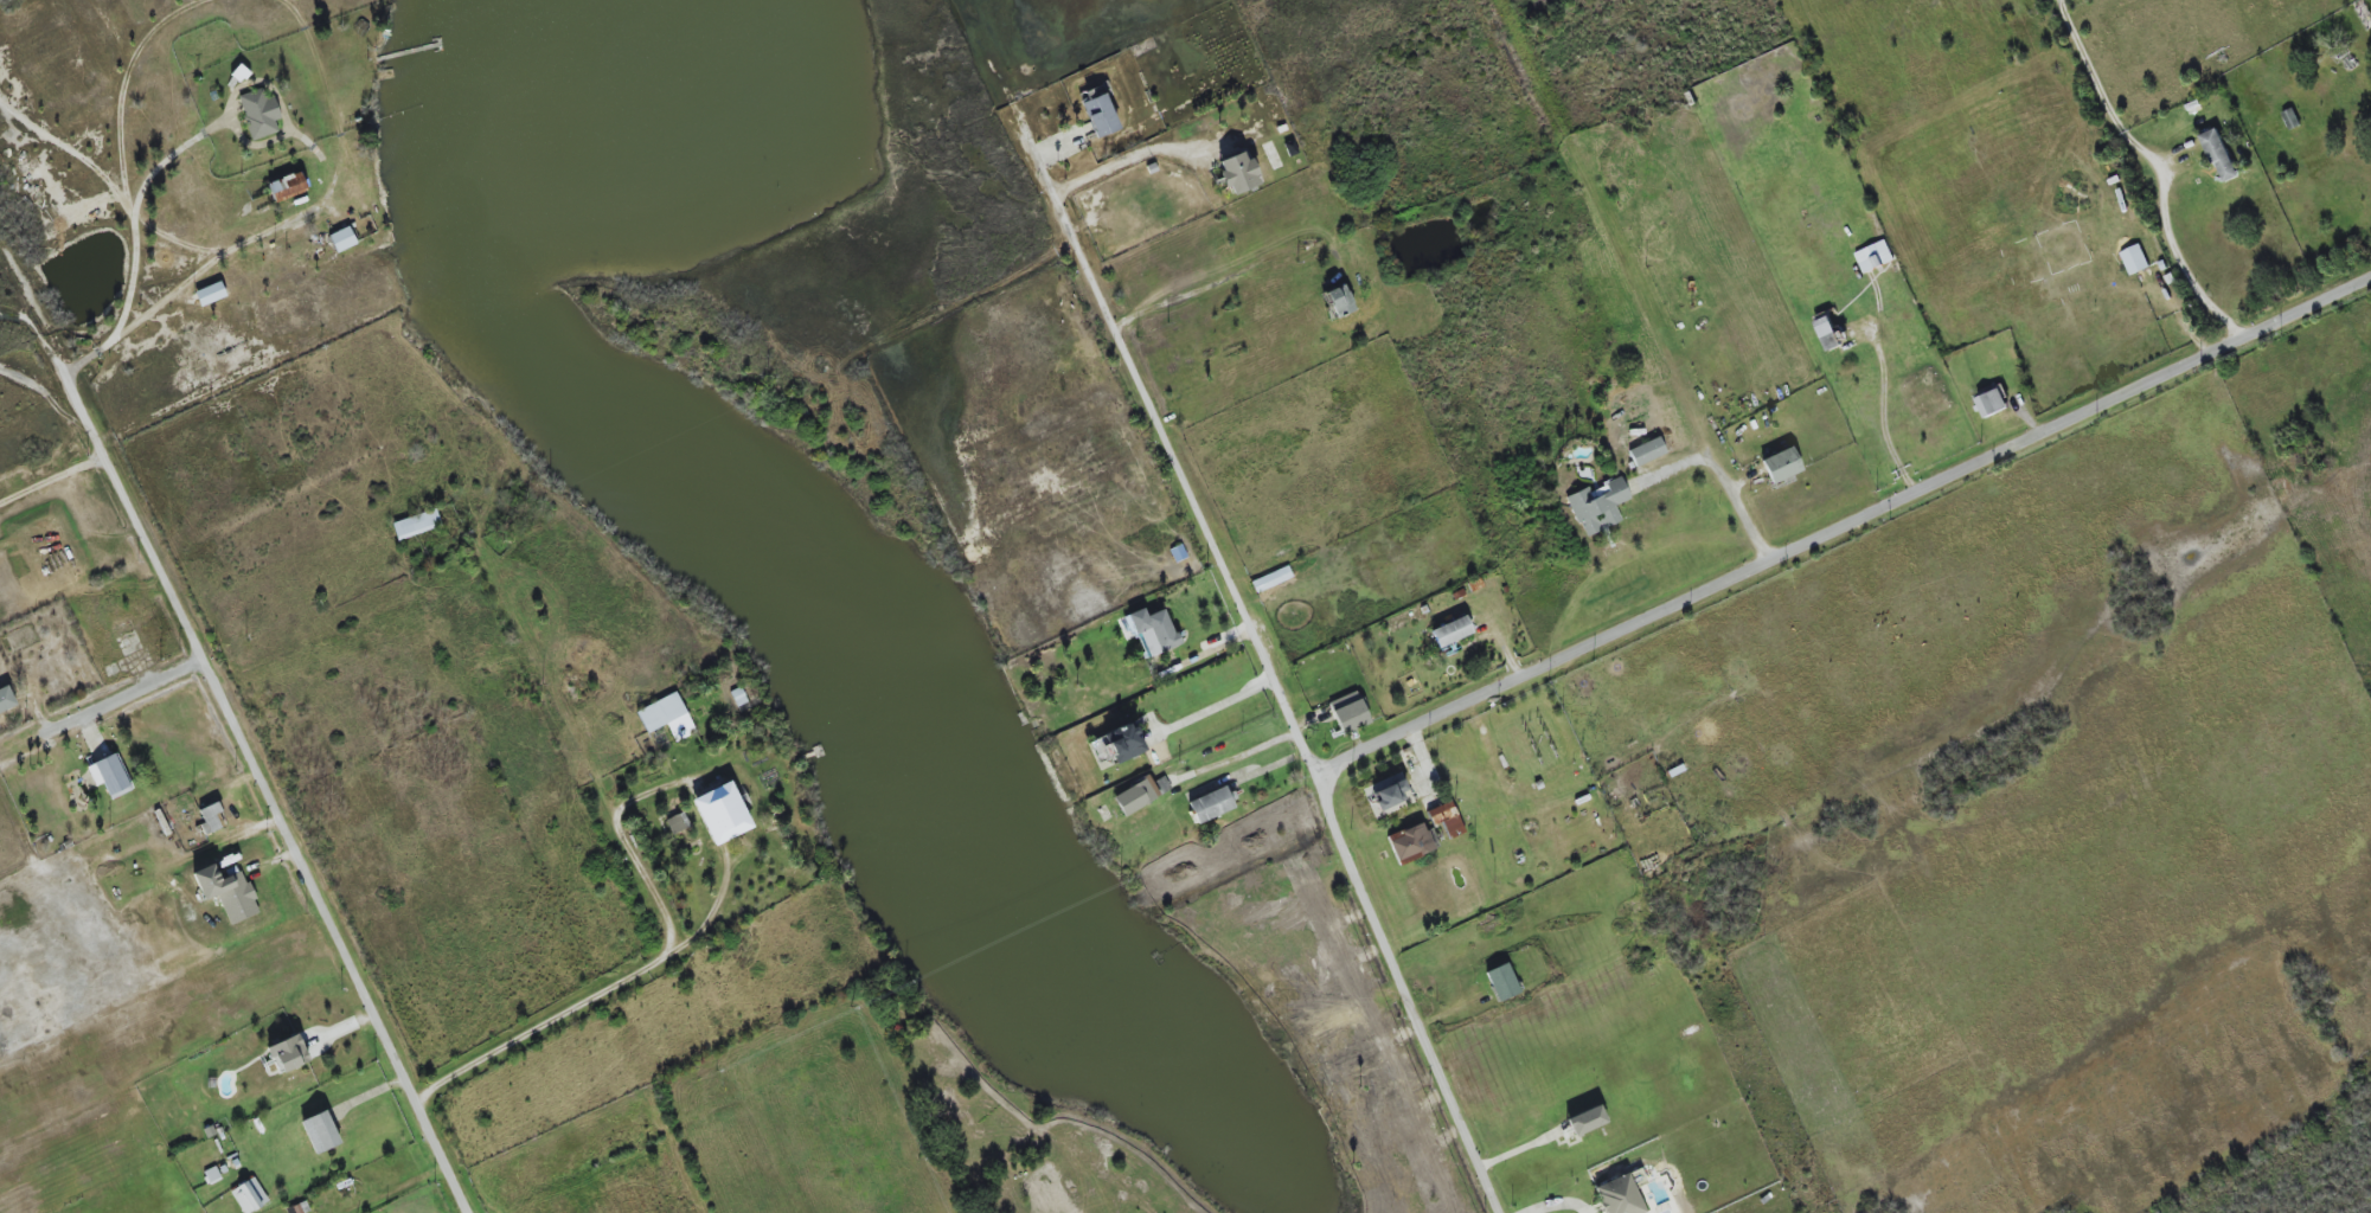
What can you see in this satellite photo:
building: (258, 114)
building: (1098, 116)
road: (73, 153)
building: (2219, 155)
road: (1130, 156)
road: (2164, 165)
building: (1237, 173)
building: (287, 187)
road: (135, 208)
building: (342, 239)
building: (1875, 257)
building: (2134, 259)
road: (1229, 275)
road: (191, 276)
building: (210, 294)
building: (1338, 301)
building: (1831, 333)
building: (1993, 402)
road: (82, 411)
road: (1883, 411)
road: (1161, 434)
building: (1647, 451)
building: (1780, 466)
road: (1722, 474)
road: (53, 481)
building: (1596, 506)
building: (416, 525)
road: (1845, 525)
building: (1271, 579)
building: (1153, 631)
building: (1450, 631)
road: (130, 692)
building: (6, 699)
road: (1209, 708)
building: (1348, 712)
building: (666, 717)
building: (1122, 743)
road: (1235, 757)
building: (110, 776)
building: (1385, 791)
building: (1135, 796)
building: (1210, 804)
building: (720, 814)
building: (211, 819)
building: (1446, 819)
building: (677, 823)
road: (283, 829)
building: (1411, 843)
building: (226, 892)
building: (1501, 982)
road: (604, 994)
road: (1406, 997)
building: (288, 1053)
building: (1585, 1121)
building: (319, 1132)
building: (212, 1175)
building: (249, 1195)
building: (1617, 1195)
road: (1556, 1205)

